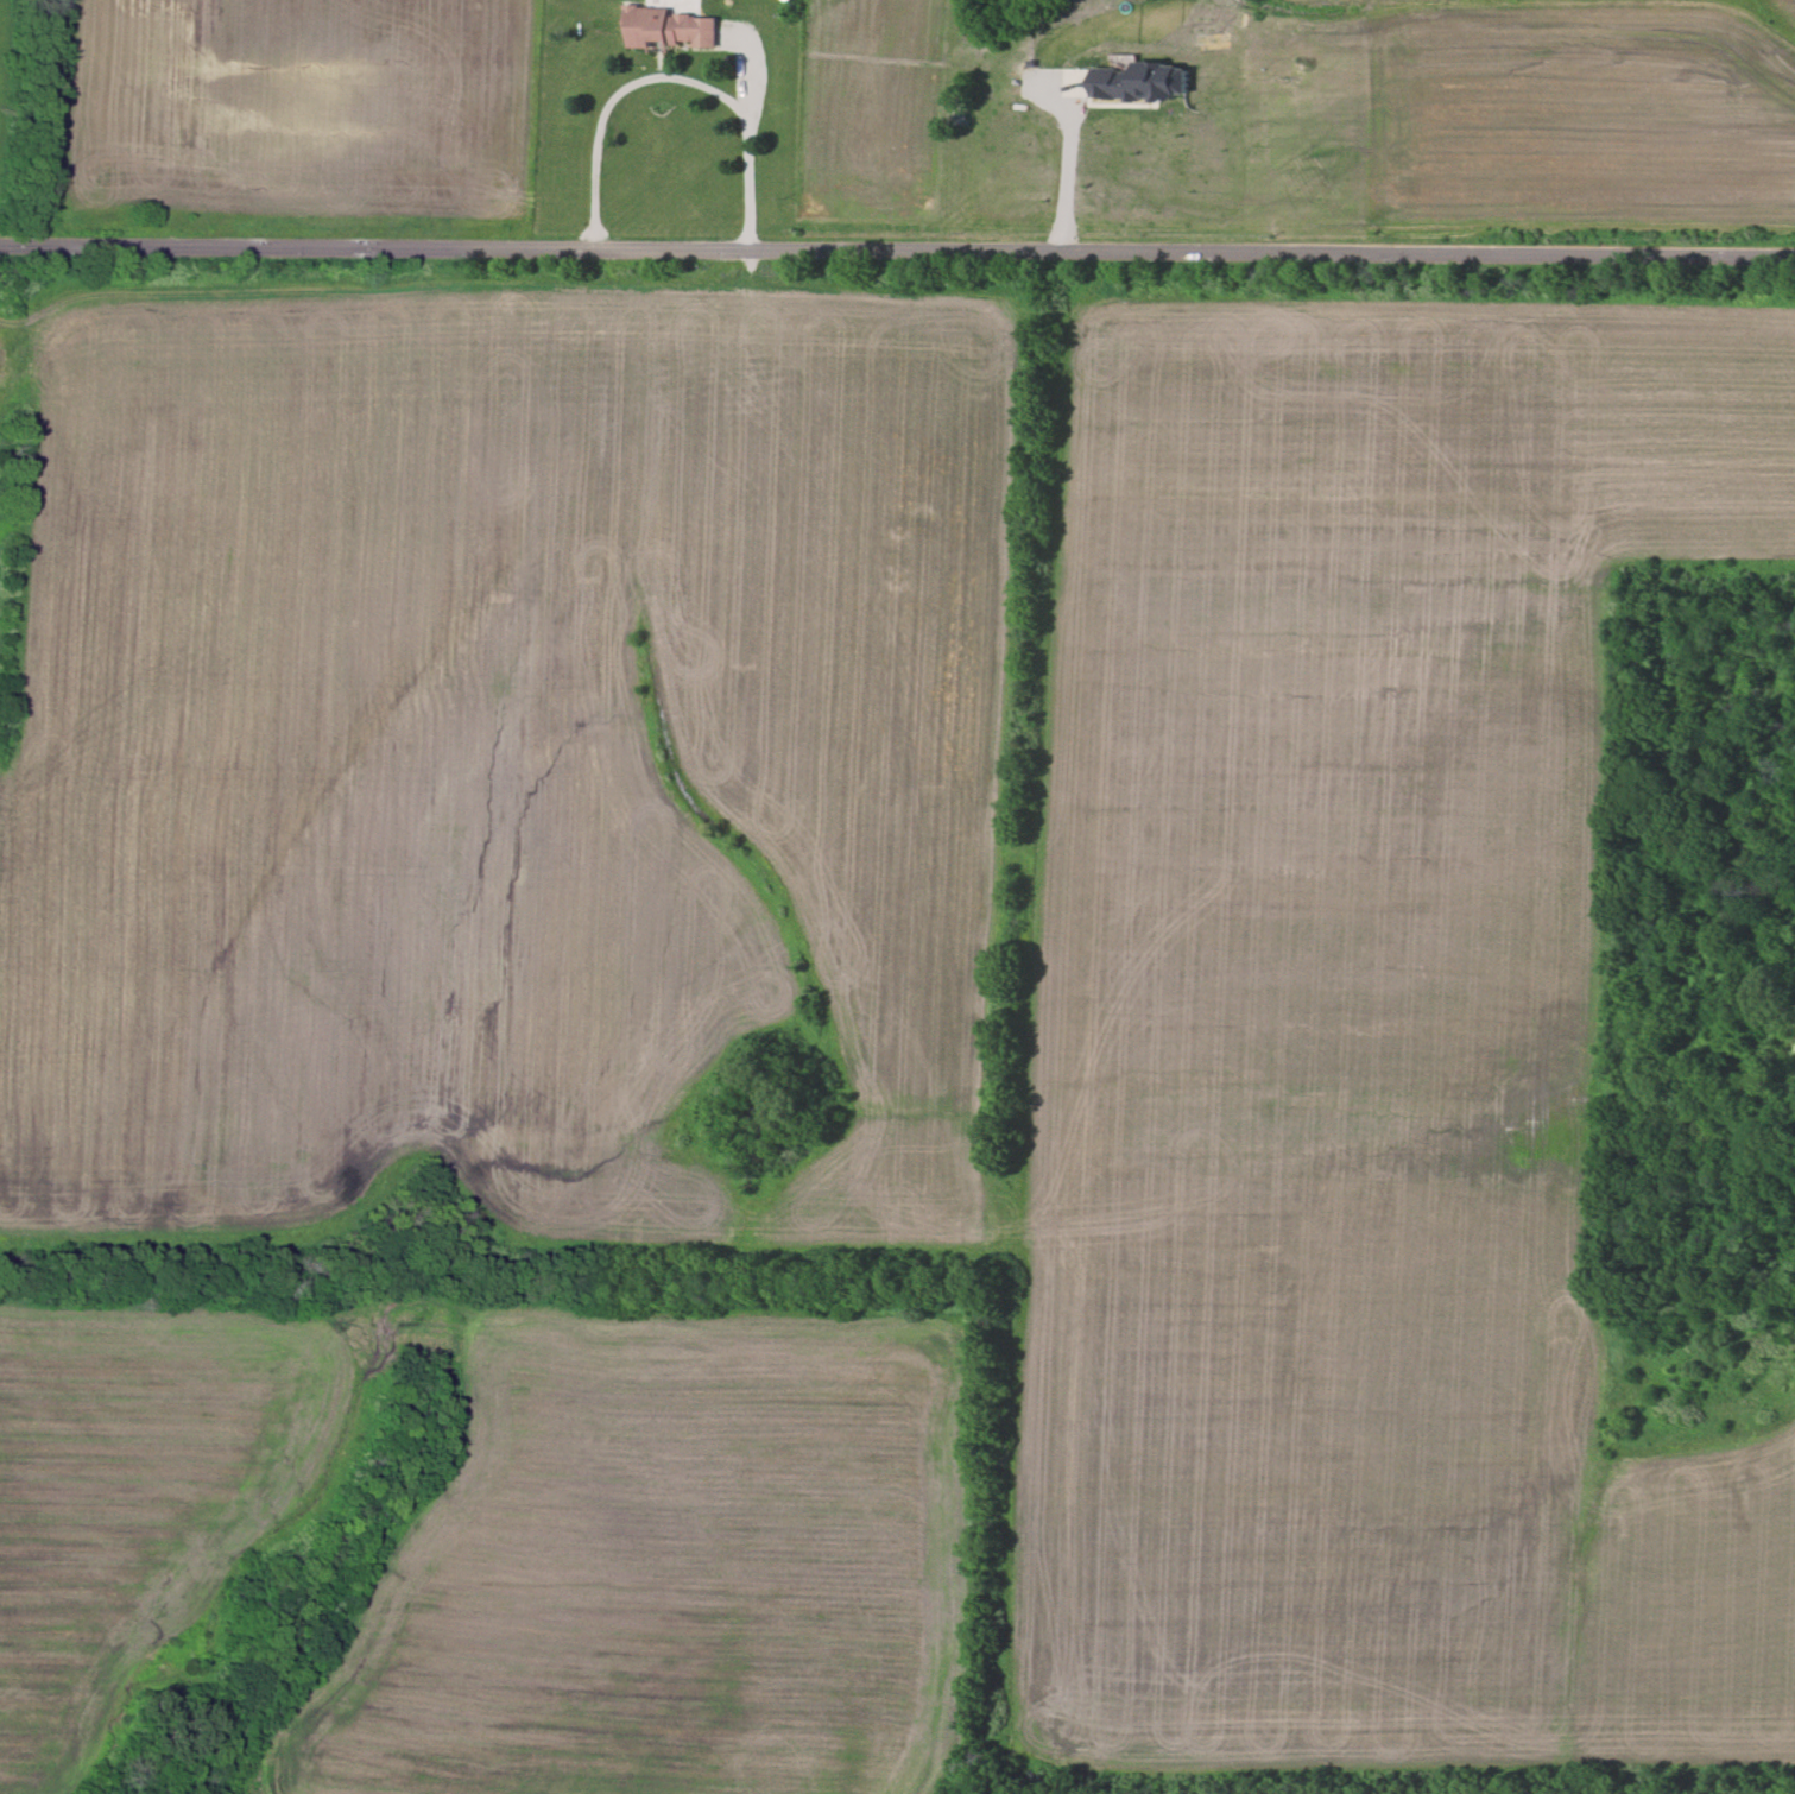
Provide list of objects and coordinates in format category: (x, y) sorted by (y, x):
building: (668, 29)
road: (662, 62)
road: (738, 75)
road: (671, 77)
road: (760, 80)
building: (1140, 81)
crop: (287, 124)
crop: (1302, 127)
road: (1066, 169)
road: (897, 251)
crop: (944, 896)
crop: (154, 1480)
crop: (658, 1566)

